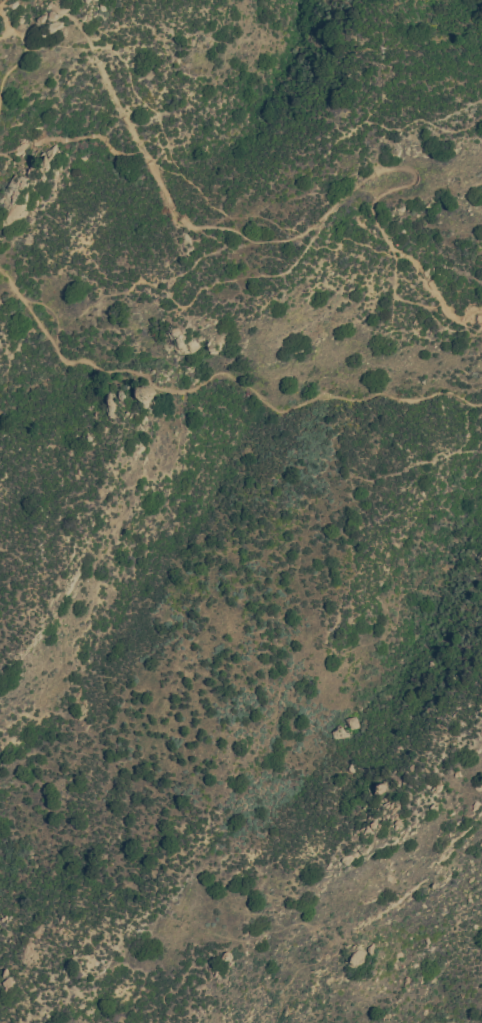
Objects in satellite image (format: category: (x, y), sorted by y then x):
road: (7, 32)
road: (23, 54)
road: (221, 372)
road: (450, 1022)

